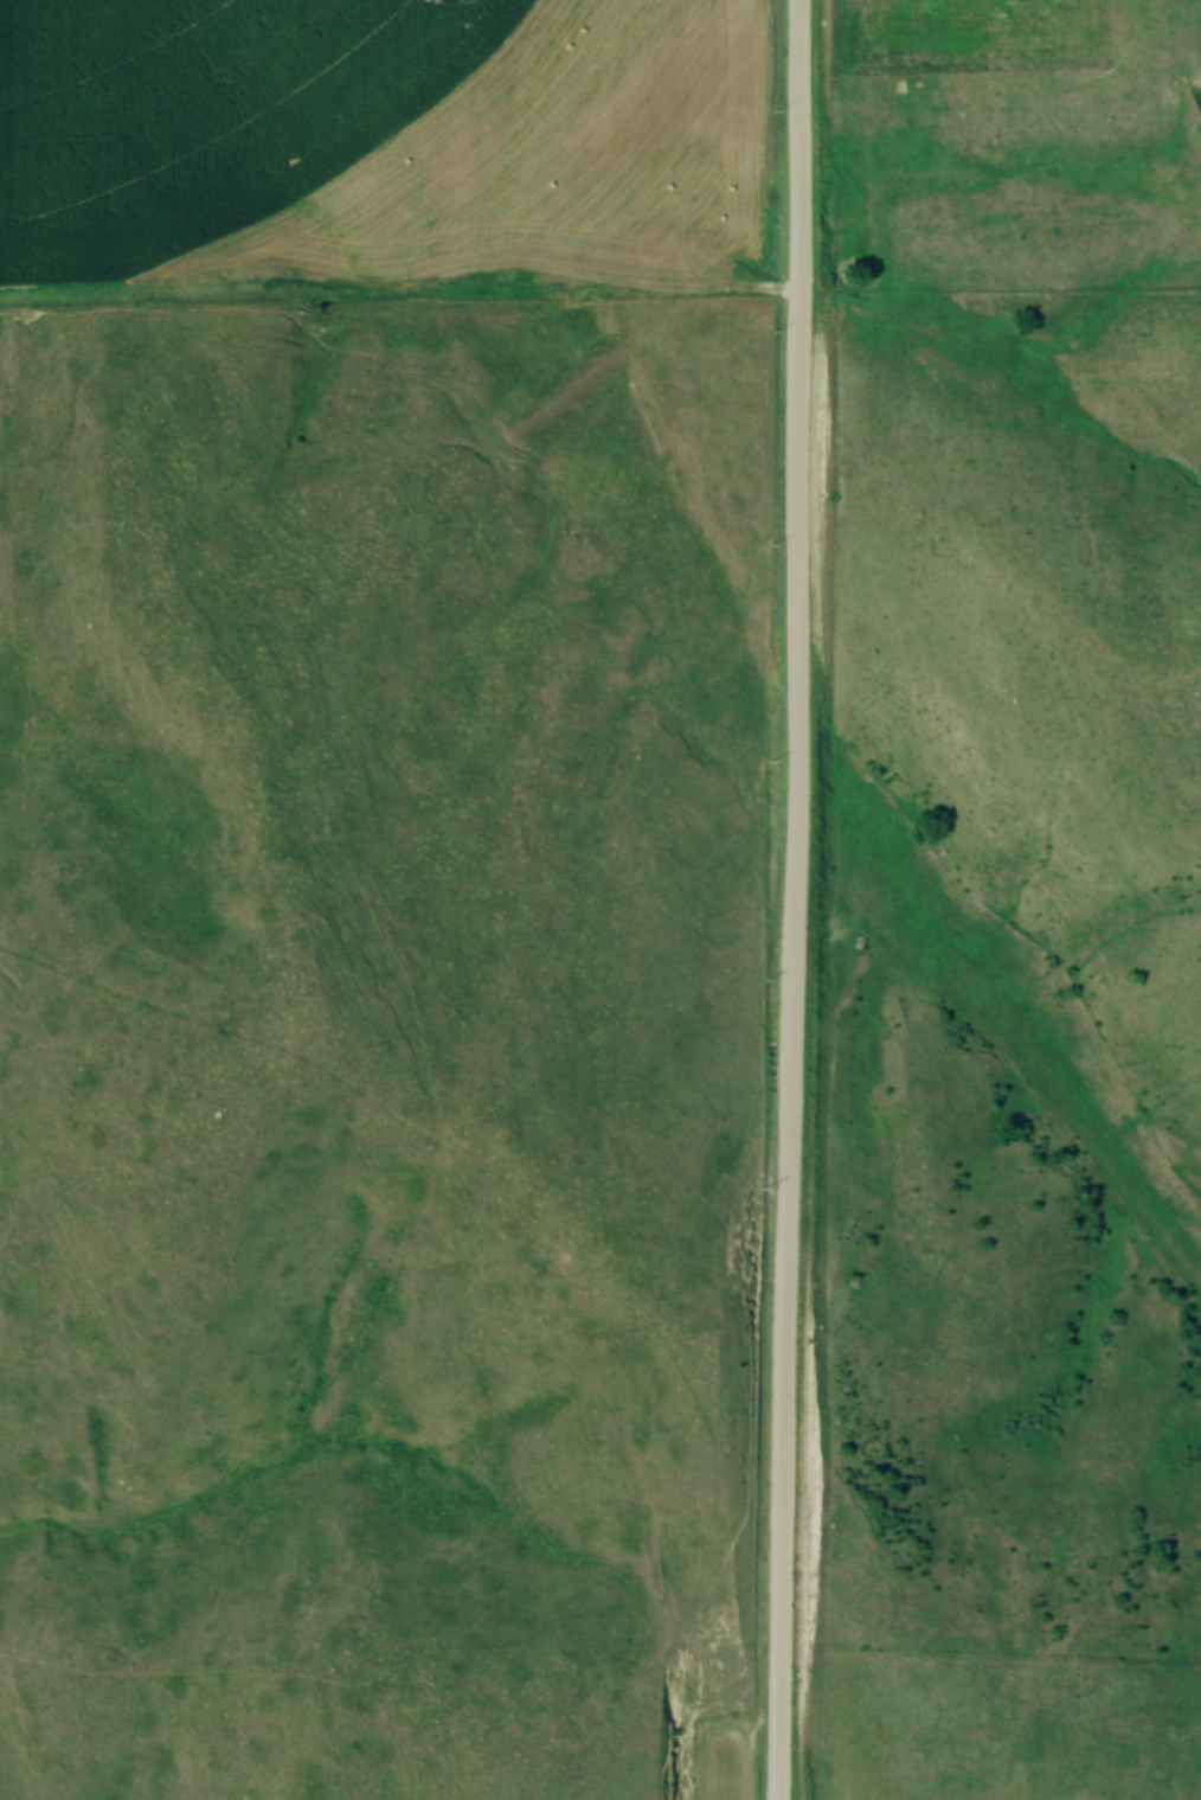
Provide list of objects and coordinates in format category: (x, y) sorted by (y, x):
road: (791, 899)

